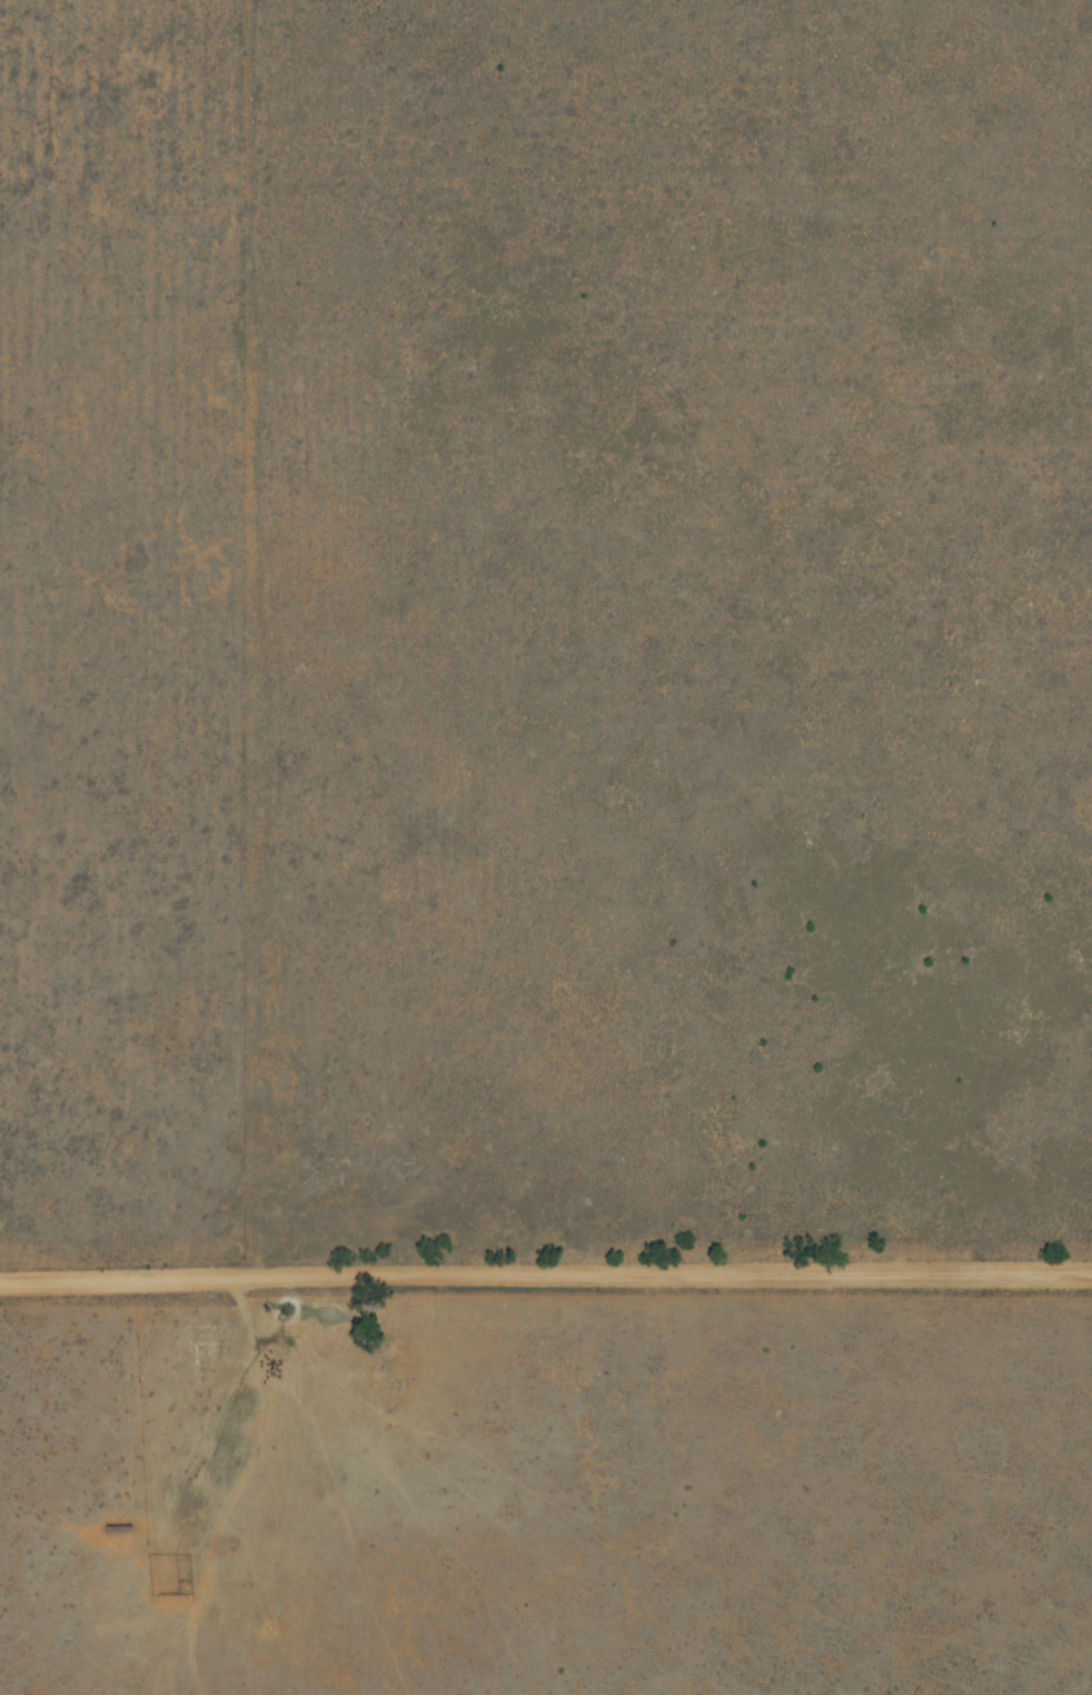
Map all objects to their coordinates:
road: (546, 1278)
building: (119, 1527)

